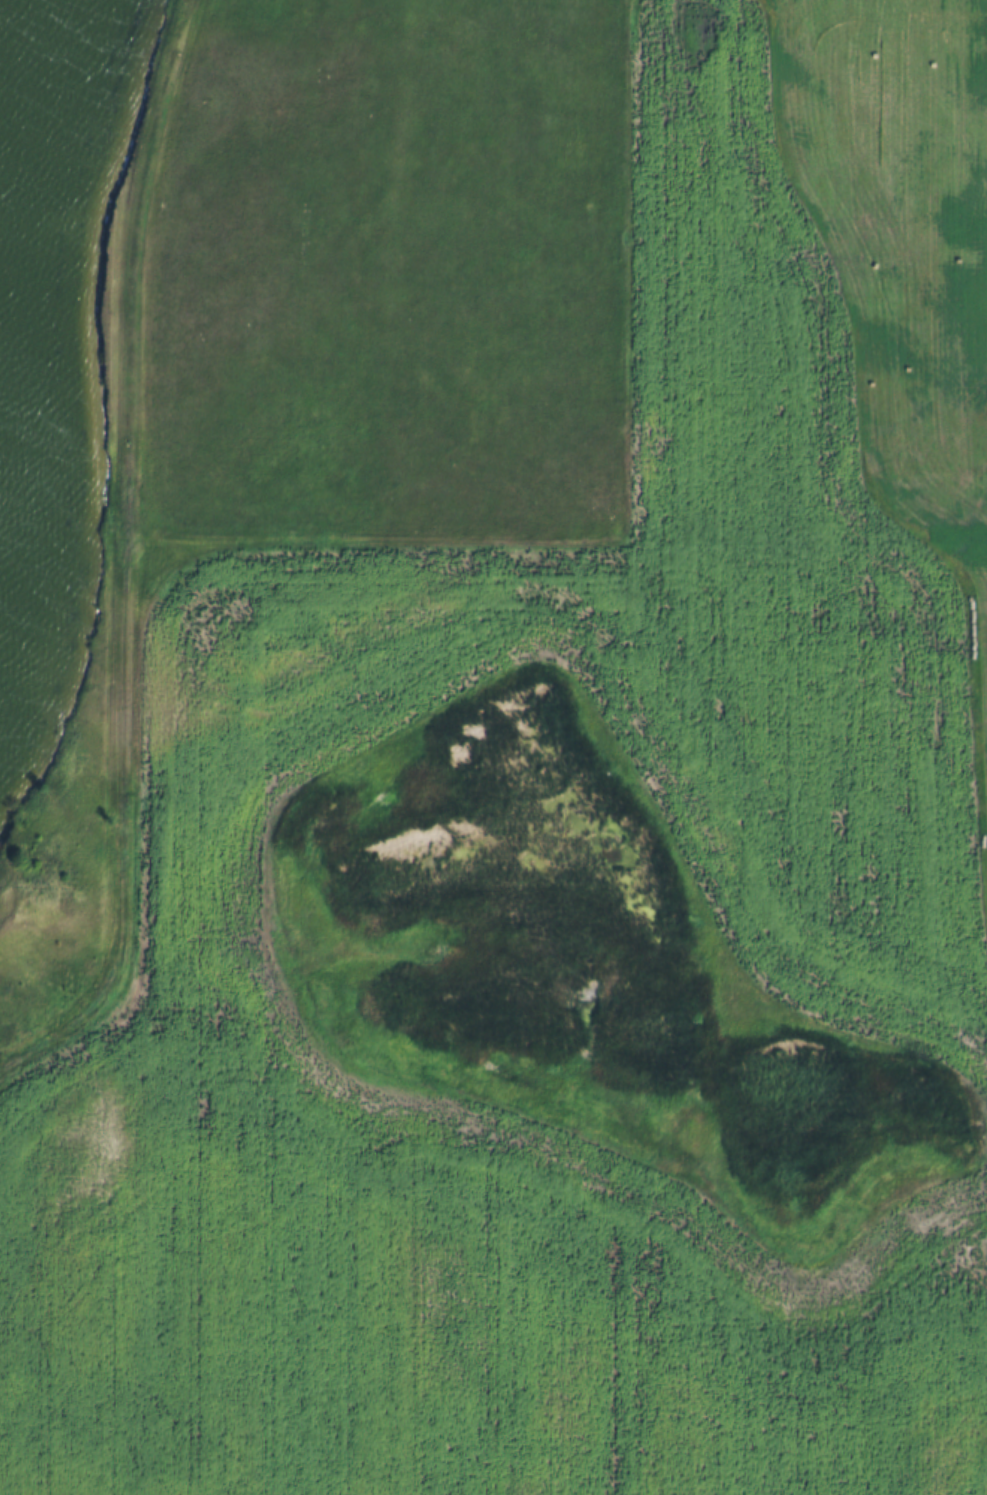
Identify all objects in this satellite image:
road: (173, 31)
road: (125, 602)

